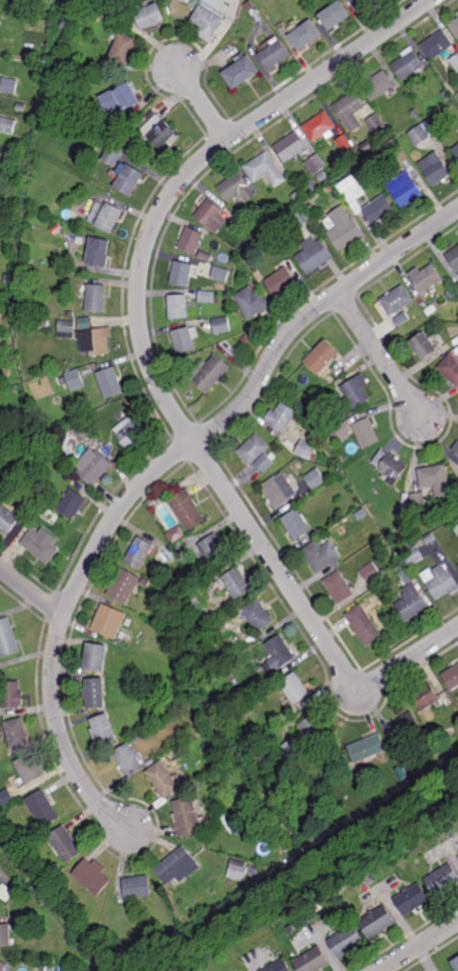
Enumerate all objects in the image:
building: (361, 3)
building: (119, 8)
building: (254, 11)
building: (457, 13)
building: (151, 14)
building: (334, 14)
building: (103, 15)
building: (206, 16)
building: (2, 23)
building: (455, 26)
building: (304, 33)
building: (235, 43)
building: (436, 44)
building: (124, 46)
building: (274, 53)
building: (455, 61)
building: (407, 64)
building: (240, 71)
building: (10, 85)
building: (378, 85)
building: (446, 95)
building: (128, 96)
road: (201, 102)
building: (21, 107)
building: (350, 111)
building: (415, 113)
building: (8, 124)
building: (377, 125)
building: (118, 127)
building: (320, 127)
building: (165, 135)
building: (420, 135)
building: (134, 137)
building: (344, 143)
building: (100, 145)
building: (290, 146)
building: (367, 146)
building: (355, 149)
building: (456, 150)
building: (113, 154)
building: (161, 163)
building: (316, 164)
building: (436, 168)
building: (265, 170)
building: (322, 176)
building: (131, 179)
building: (312, 185)
building: (236, 188)
building: (332, 188)
building: (405, 189)
building: (298, 196)
building: (380, 204)
building: (69, 210)
building: (210, 215)
building: (111, 217)
building: (269, 217)
building: (240, 227)
building: (344, 228)
building: (192, 240)
building: (311, 247)
building: (100, 252)
building: (206, 257)
building: (454, 258)
building: (182, 274)
building: (220, 274)
building: (258, 276)
building: (428, 279)
building: (281, 281)
building: (457, 286)
building: (451, 294)
building: (227, 295)
building: (207, 297)
building: (97, 298)
building: (397, 300)
building: (252, 302)
road: (138, 305)
building: (179, 307)
building: (402, 319)
building: (68, 323)
building: (44, 324)
building: (221, 325)
building: (186, 339)
building: (246, 339)
building: (95, 341)
building: (424, 347)
building: (457, 352)
building: (322, 357)
road: (388, 365)
building: (451, 369)
building: (210, 374)
building: (75, 379)
building: (64, 382)
building: (111, 383)
building: (357, 391)
building: (302, 397)
road: (245, 400)
building: (282, 418)
building: (323, 429)
building: (343, 430)
building: (84, 432)
building: (130, 433)
building: (367, 434)
building: (109, 447)
building: (84, 448)
building: (456, 449)
building: (253, 450)
building: (306, 450)
building: (115, 453)
building: (0, 456)
building: (284, 461)
building: (264, 463)
building: (391, 466)
building: (94, 467)
building: (433, 475)
building: (315, 477)
building: (455, 481)
building: (279, 489)
building: (418, 499)
building: (72, 503)
building: (371, 504)
building: (186, 508)
building: (43, 510)
building: (8, 517)
building: (296, 524)
building: (457, 528)
building: (375, 531)
building: (176, 534)
building: (446, 534)
building: (429, 538)
building: (353, 539)
building: (41, 544)
building: (177, 547)
building: (167, 548)
building: (211, 550)
building: (140, 551)
building: (320, 554)
building: (413, 555)
building: (457, 565)
building: (371, 572)
building: (408, 575)
building: (440, 580)
building: (237, 581)
building: (147, 582)
building: (125, 586)
building: (338, 587)
building: (376, 590)
road: (31, 593)
building: (412, 602)
building: (217, 613)
building: (258, 614)
building: (110, 621)
building: (130, 623)
building: (364, 624)
building: (221, 628)
building: (124, 635)
building: (8, 639)
building: (279, 651)
building: (97, 656)
road: (410, 659)
building: (82, 676)
building: (451, 676)
building: (257, 686)
building: (294, 688)
building: (98, 692)
building: (12, 694)
building: (426, 697)
building: (266, 698)
building: (407, 726)
building: (106, 730)
building: (17, 733)
road: (62, 738)
building: (315, 738)
building: (139, 739)
building: (367, 748)
building: (444, 748)
building: (130, 758)
building: (153, 763)
building: (434, 766)
building: (30, 769)
building: (404, 769)
building: (421, 778)
building: (167, 780)
building: (6, 797)
building: (43, 809)
building: (16, 811)
building: (188, 818)
building: (288, 839)
building: (291, 844)
building: (65, 845)
building: (178, 866)
building: (238, 866)
building: (56, 867)
building: (253, 871)
building: (93, 876)
building: (367, 878)
building: (442, 879)
building: (138, 888)
building: (412, 900)
building: (318, 907)
building: (377, 922)
building: (5, 936)
building: (346, 941)
building: (262, 945)
road: (420, 946)
building: (313, 961)
building: (456, 963)
building: (3, 966)
building: (280, 966)
building: (59, 968)

